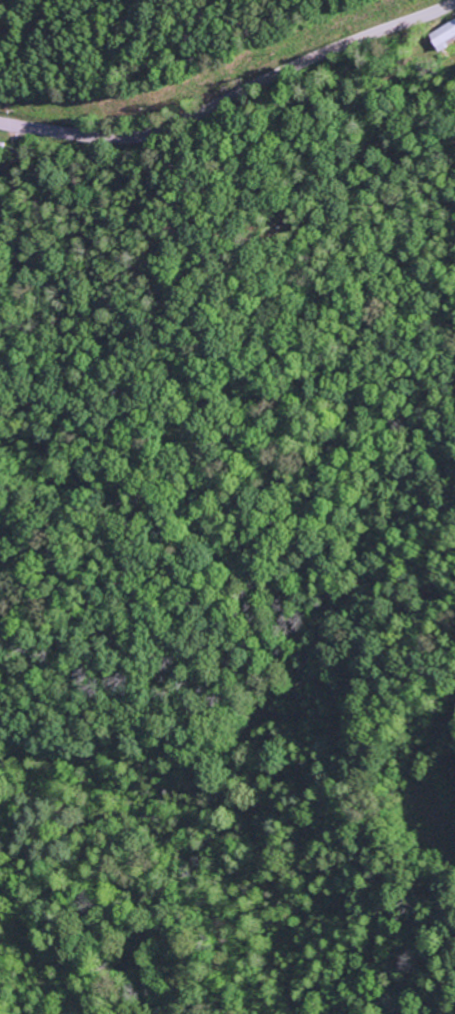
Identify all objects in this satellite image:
building: (446, 39)
road: (233, 96)

